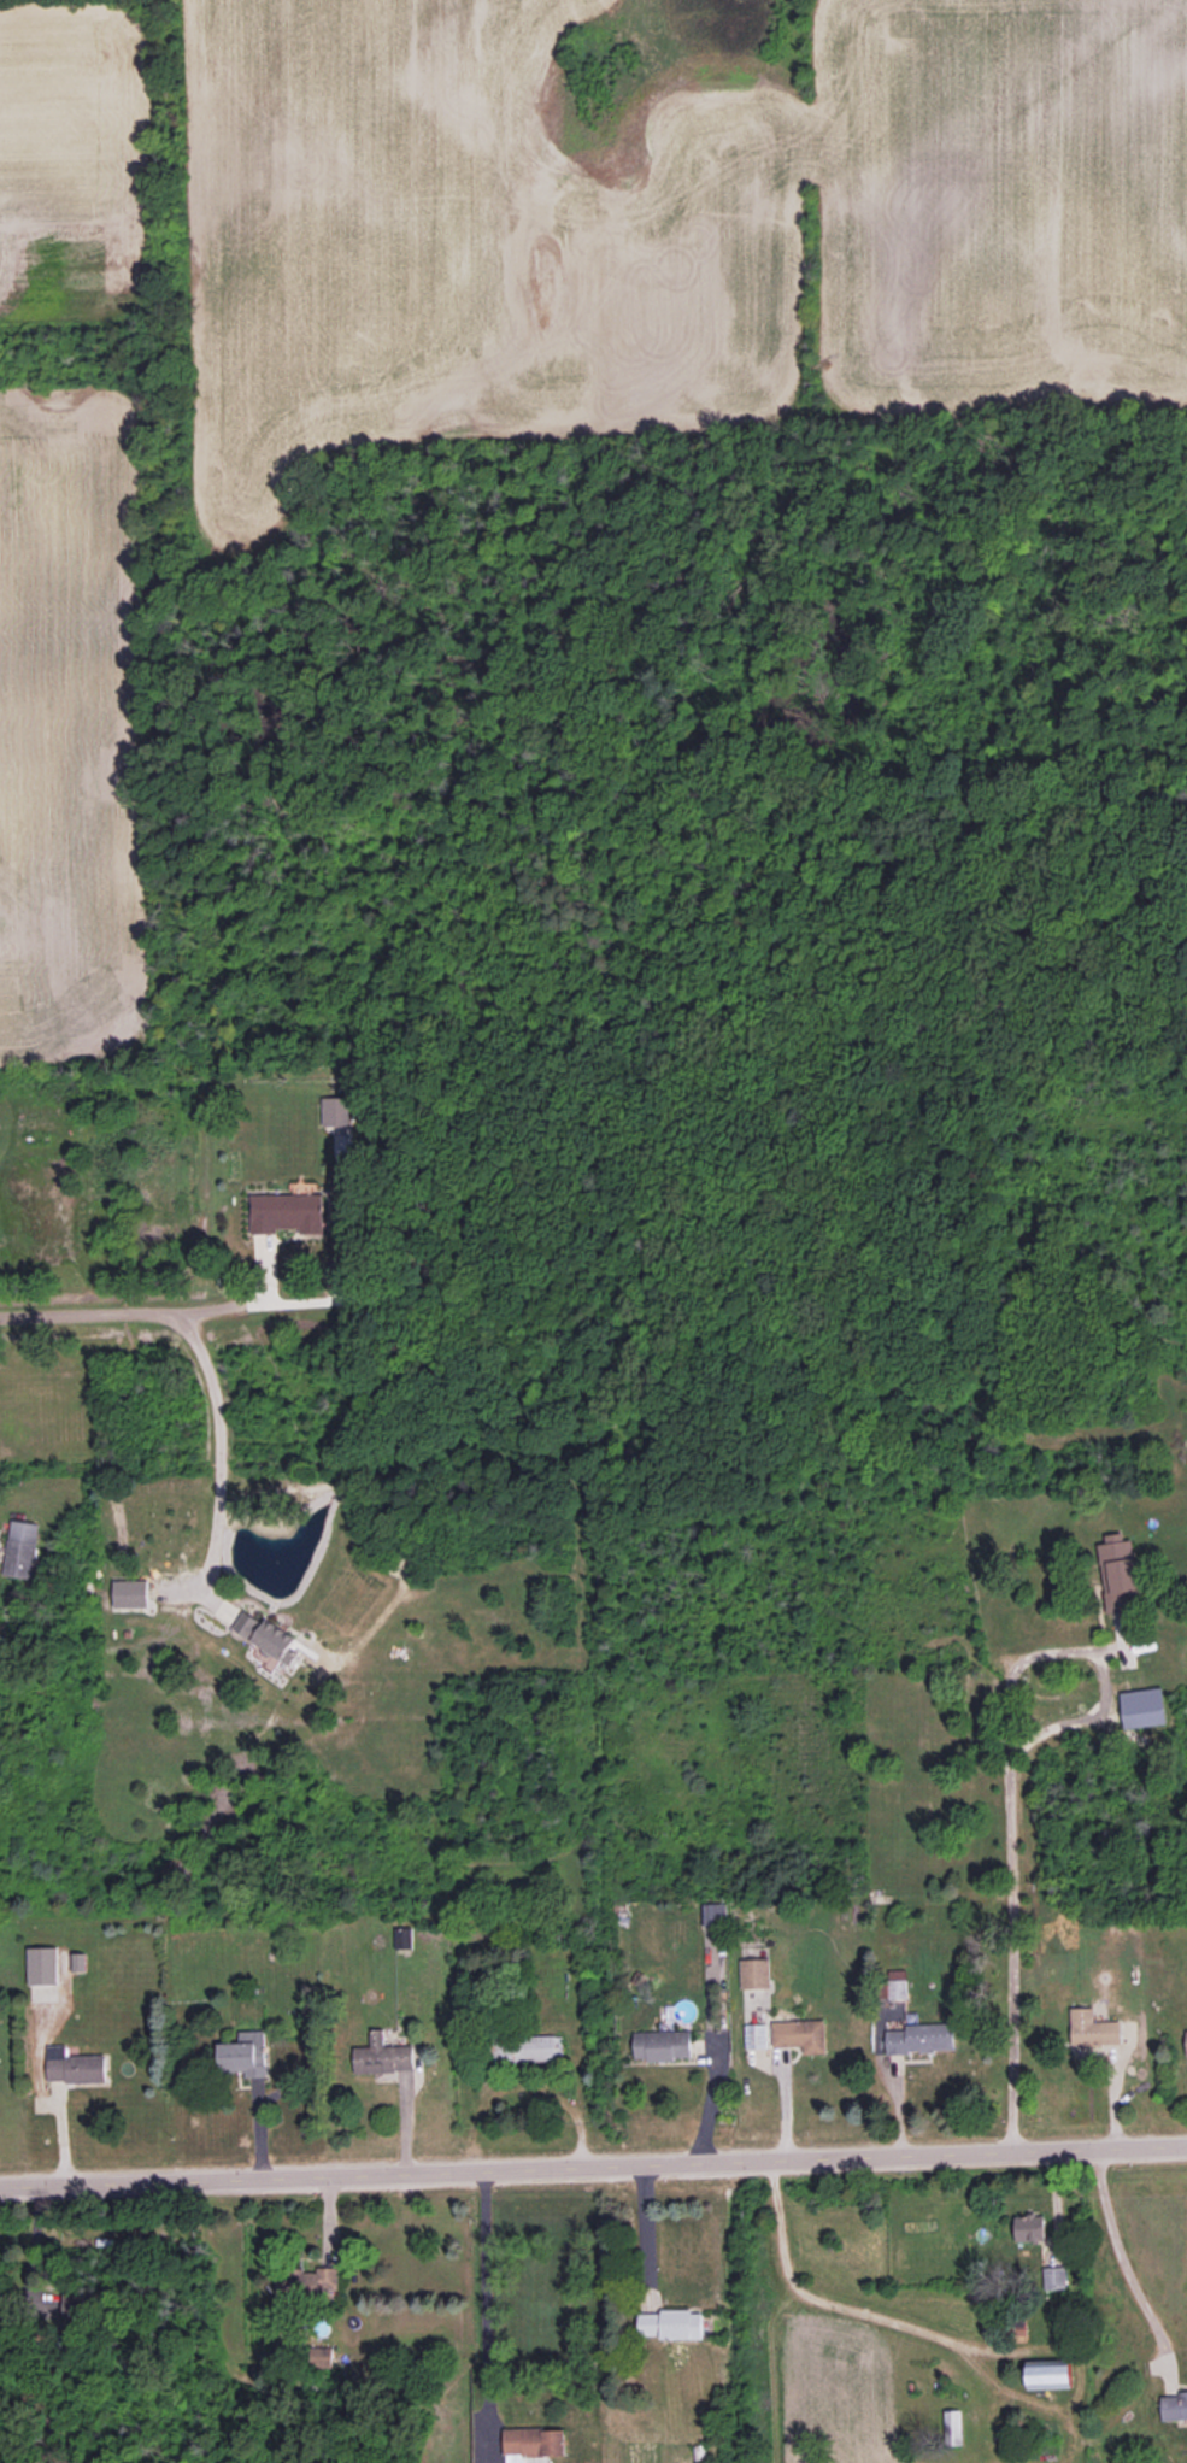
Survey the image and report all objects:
building: (336, 1110)
building: (287, 1212)
road: (241, 1301)
road: (86, 1316)
road: (213, 1452)
building: (20, 1548)
building: (1120, 1575)
building: (129, 1593)
building: (266, 1635)
road: (1094, 1651)
building: (1142, 1706)
building: (713, 1912)
building: (402, 1936)
road: (1015, 1945)
building: (42, 1965)
building: (754, 1973)
building: (897, 1983)
building: (1092, 2028)
building: (800, 2034)
building: (756, 2035)
building: (921, 2038)
building: (1186, 2042)
building: (662, 2044)
building: (529, 2047)
building: (245, 2053)
building: (382, 2055)
building: (74, 2065)
road: (709, 2097)
road: (593, 2164)
building: (1029, 2227)
road: (644, 2229)
road: (1120, 2259)
building: (1054, 2276)
building: (306, 2281)
road: (824, 2300)
road: (484, 2303)
building: (71, 2304)
building: (2, 2309)
building: (670, 2323)
building: (321, 2355)
building: (1048, 2373)
building: (1174, 2405)
building: (533, 2443)

